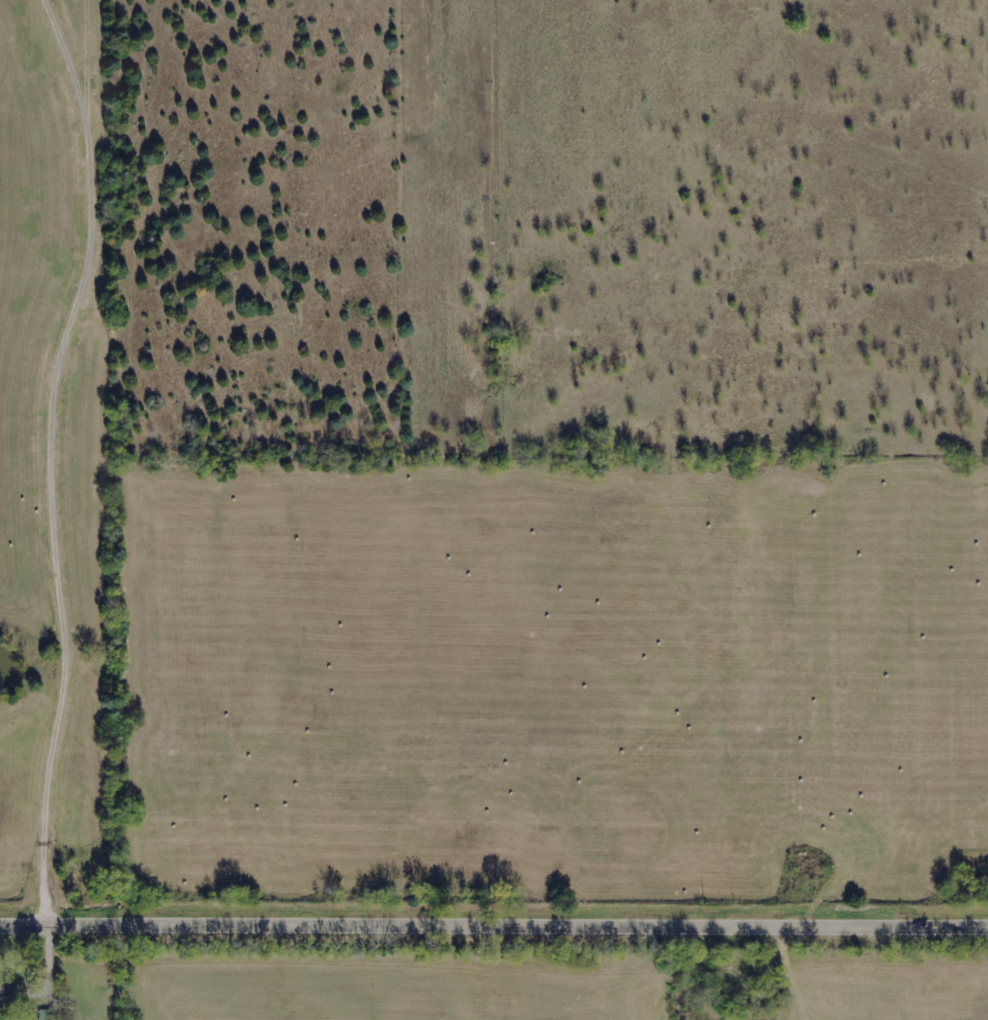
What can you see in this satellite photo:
road: (494, 929)
building: (8, 997)
building: (47, 1014)

